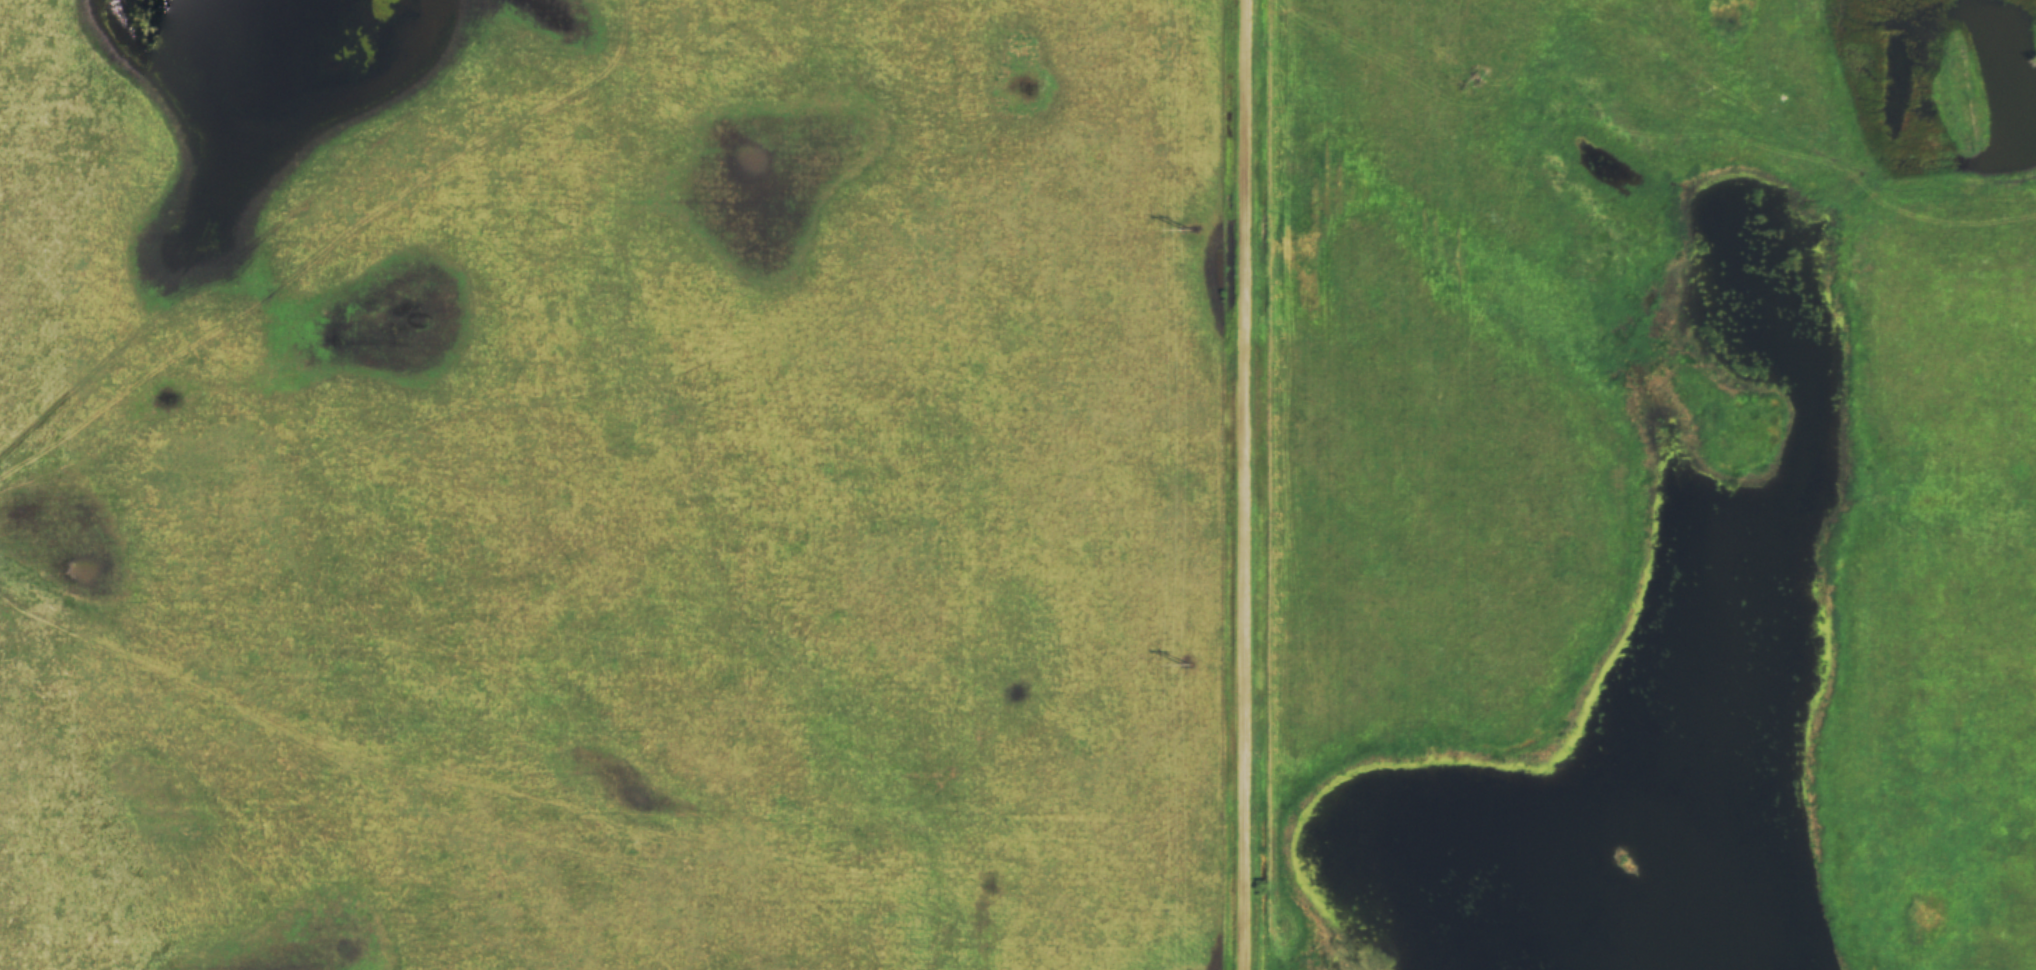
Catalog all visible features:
power tower: (1185, 228)
road: (1221, 485)
power tower: (1185, 664)

